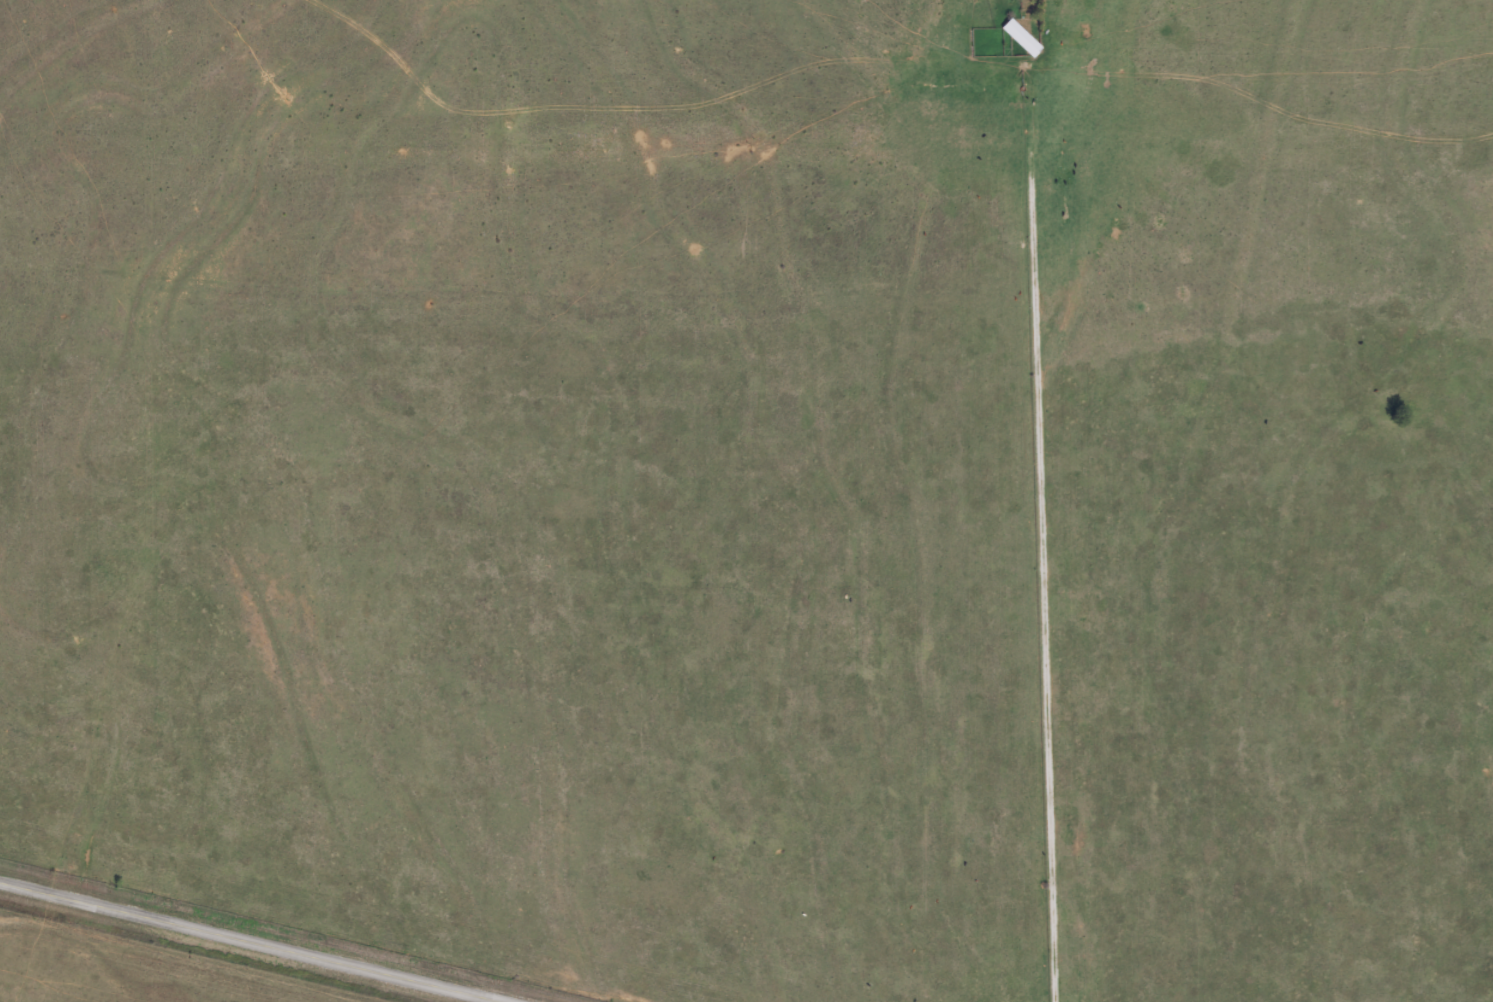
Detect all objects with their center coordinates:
building: (1023, 39)
road: (246, 943)

